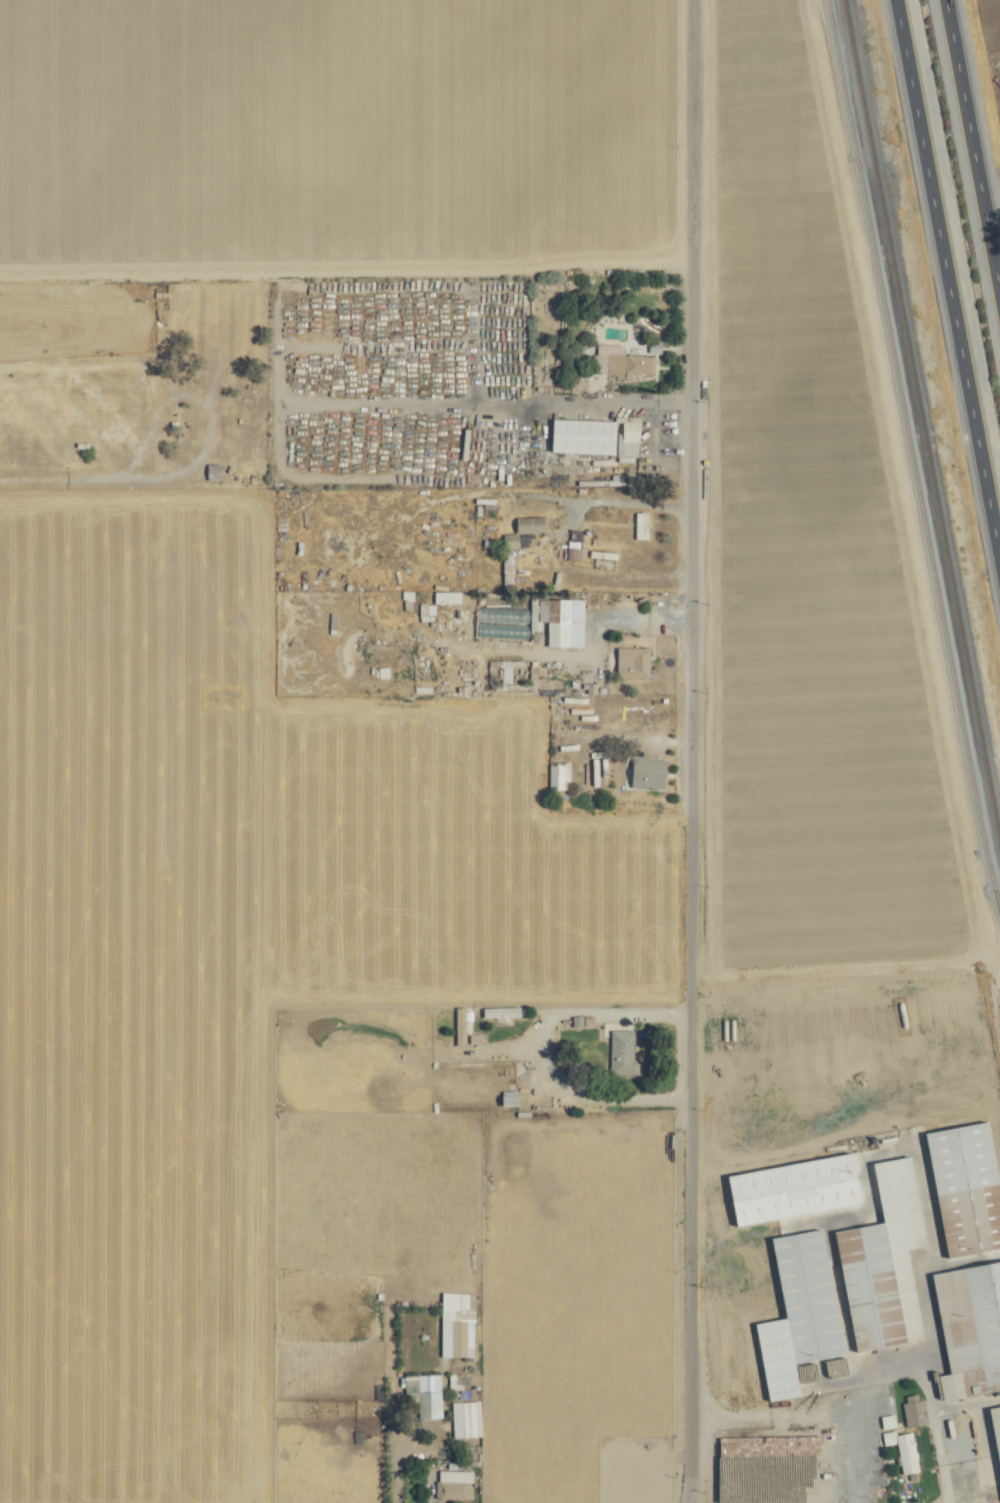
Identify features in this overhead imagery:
road: (974, 134)
road: (950, 266)
building: (633, 360)
railway: (922, 417)
road: (649, 431)
building: (597, 435)
railway: (910, 452)
building: (214, 470)
road: (591, 500)
building: (533, 523)
building: (642, 524)
building: (512, 538)
building: (448, 596)
building: (428, 608)
road: (623, 616)
building: (565, 621)
building: (635, 661)
road: (683, 751)
building: (650, 773)
building: (560, 774)
building: (966, 1189)
building: (791, 1190)
building: (884, 1263)
building: (797, 1315)
building: (969, 1329)
building: (437, 1401)
building: (911, 1410)
building: (989, 1449)
building: (899, 1450)
building: (450, 1490)

